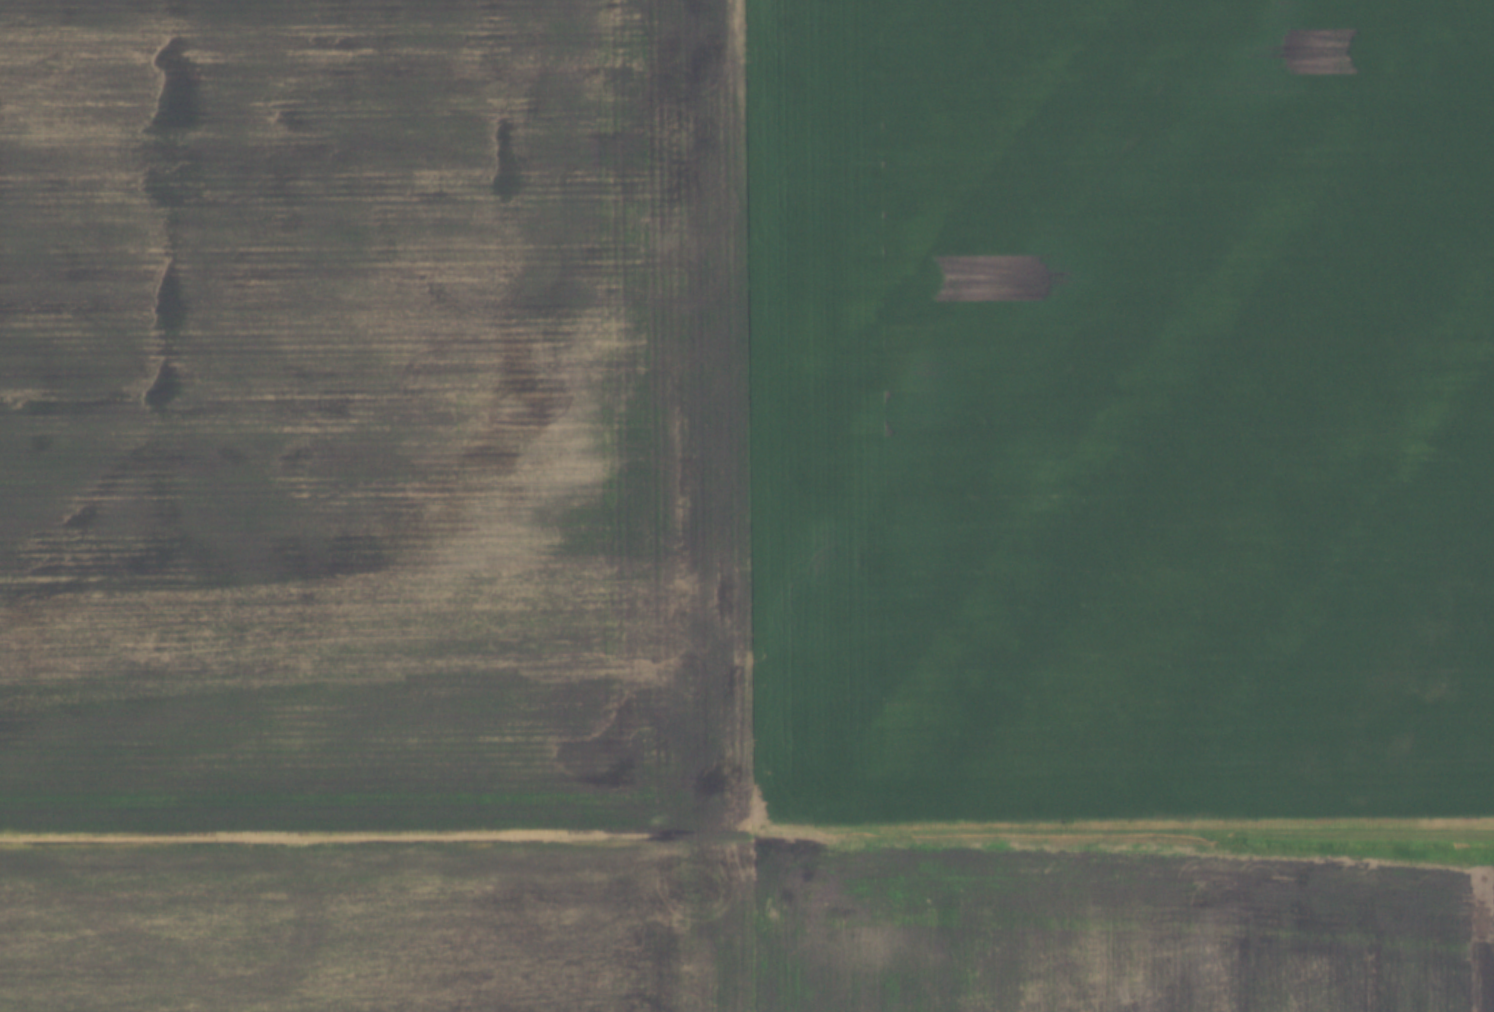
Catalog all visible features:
road: (747, 839)

